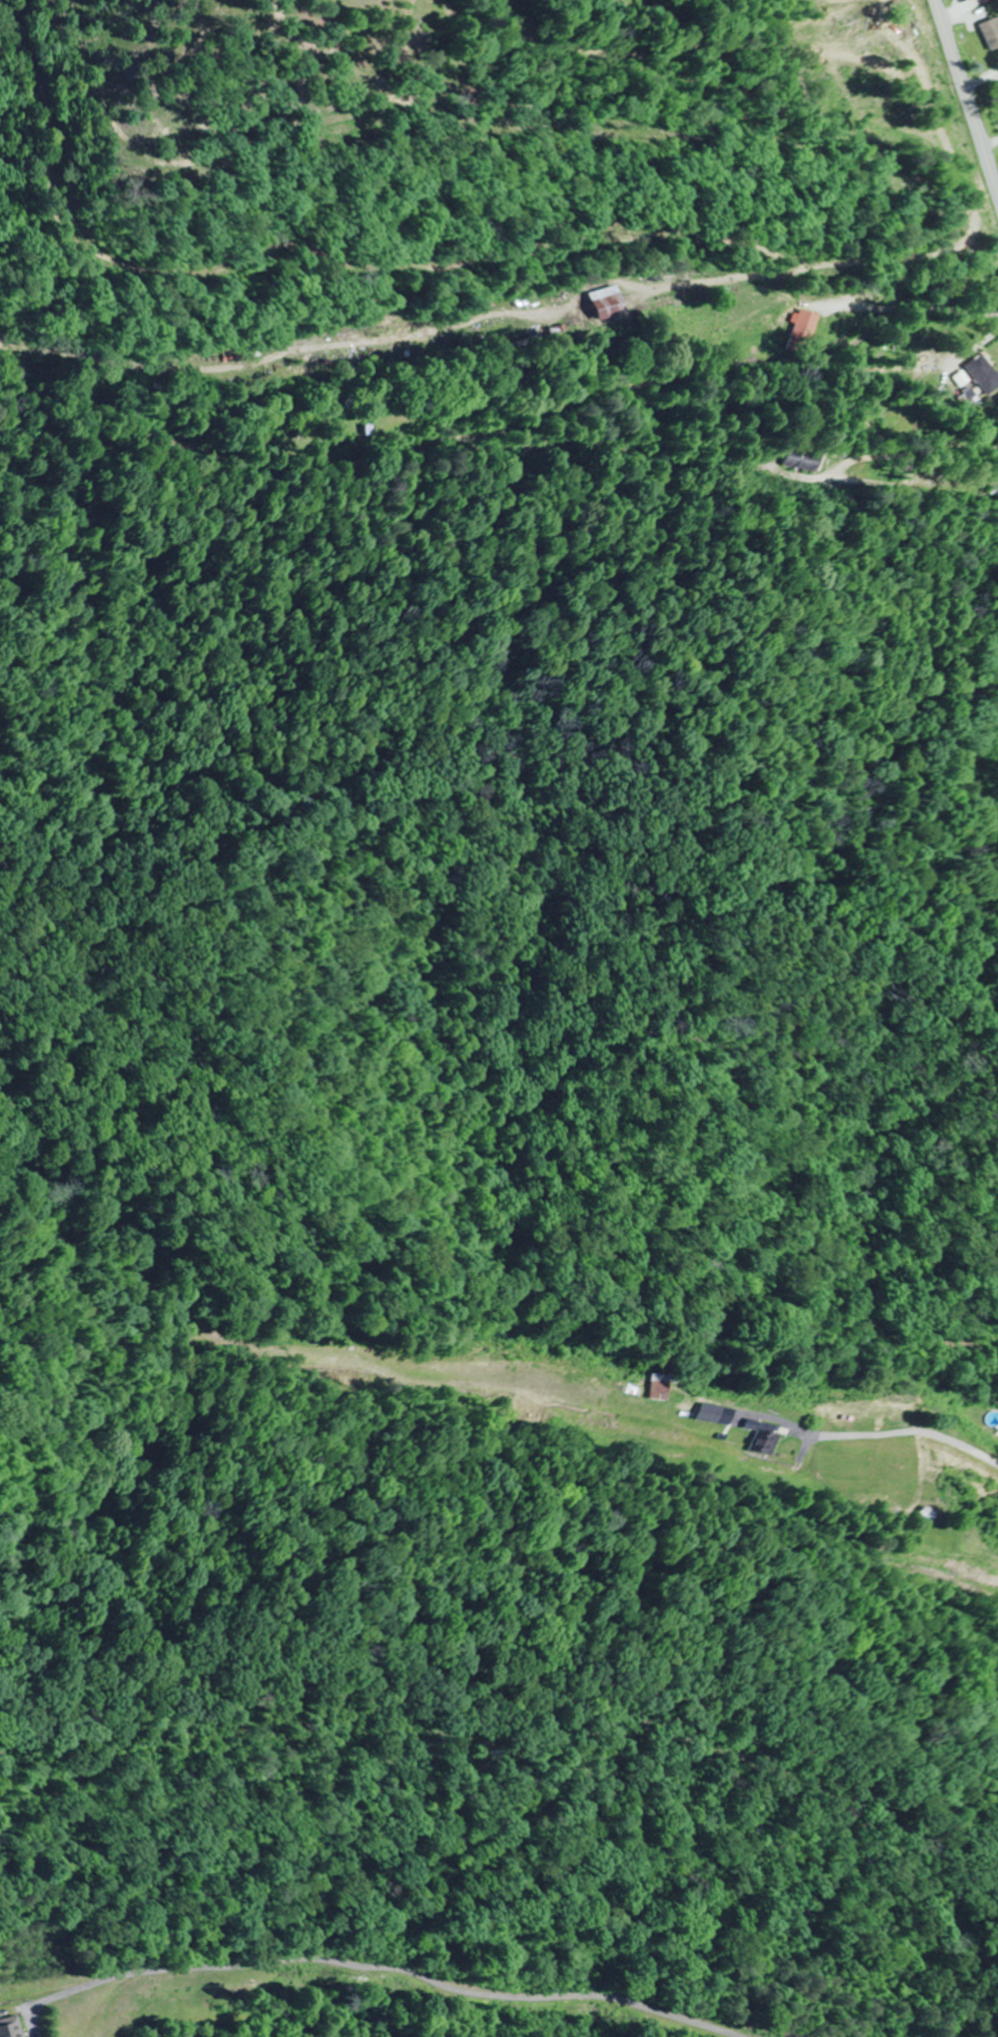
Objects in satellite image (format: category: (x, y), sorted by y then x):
building: (991, 32)
road: (966, 97)
building: (606, 305)
building: (806, 326)
building: (495, 332)
road: (670, 351)
building: (986, 372)
building: (806, 460)
building: (995, 486)
building: (657, 1386)
road: (818, 1386)
building: (709, 1412)
building: (894, 1416)
building: (12, 2027)

